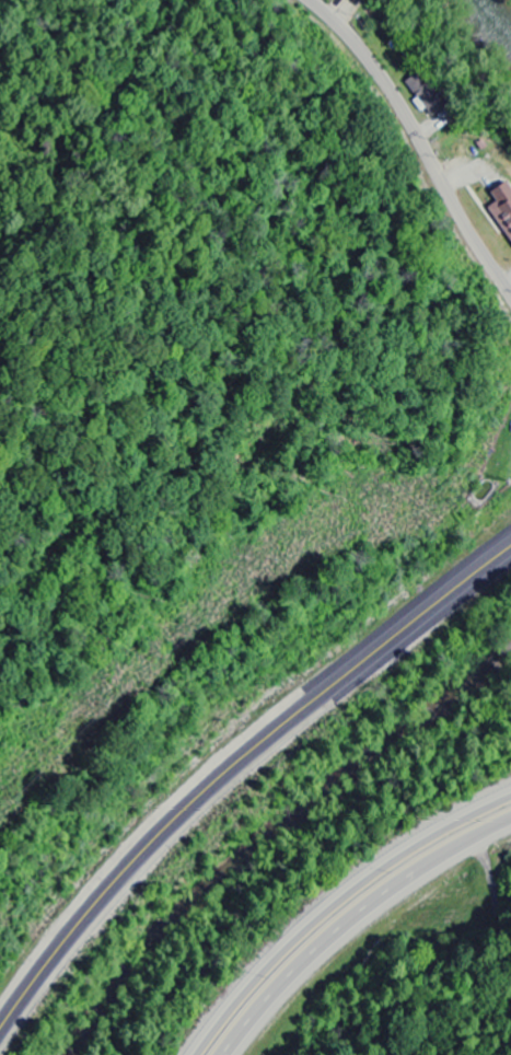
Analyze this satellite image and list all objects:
building: (346, 0)
river: (507, 3)
building: (425, 95)
road: (420, 137)
building: (501, 209)
road: (233, 770)
road: (342, 911)

